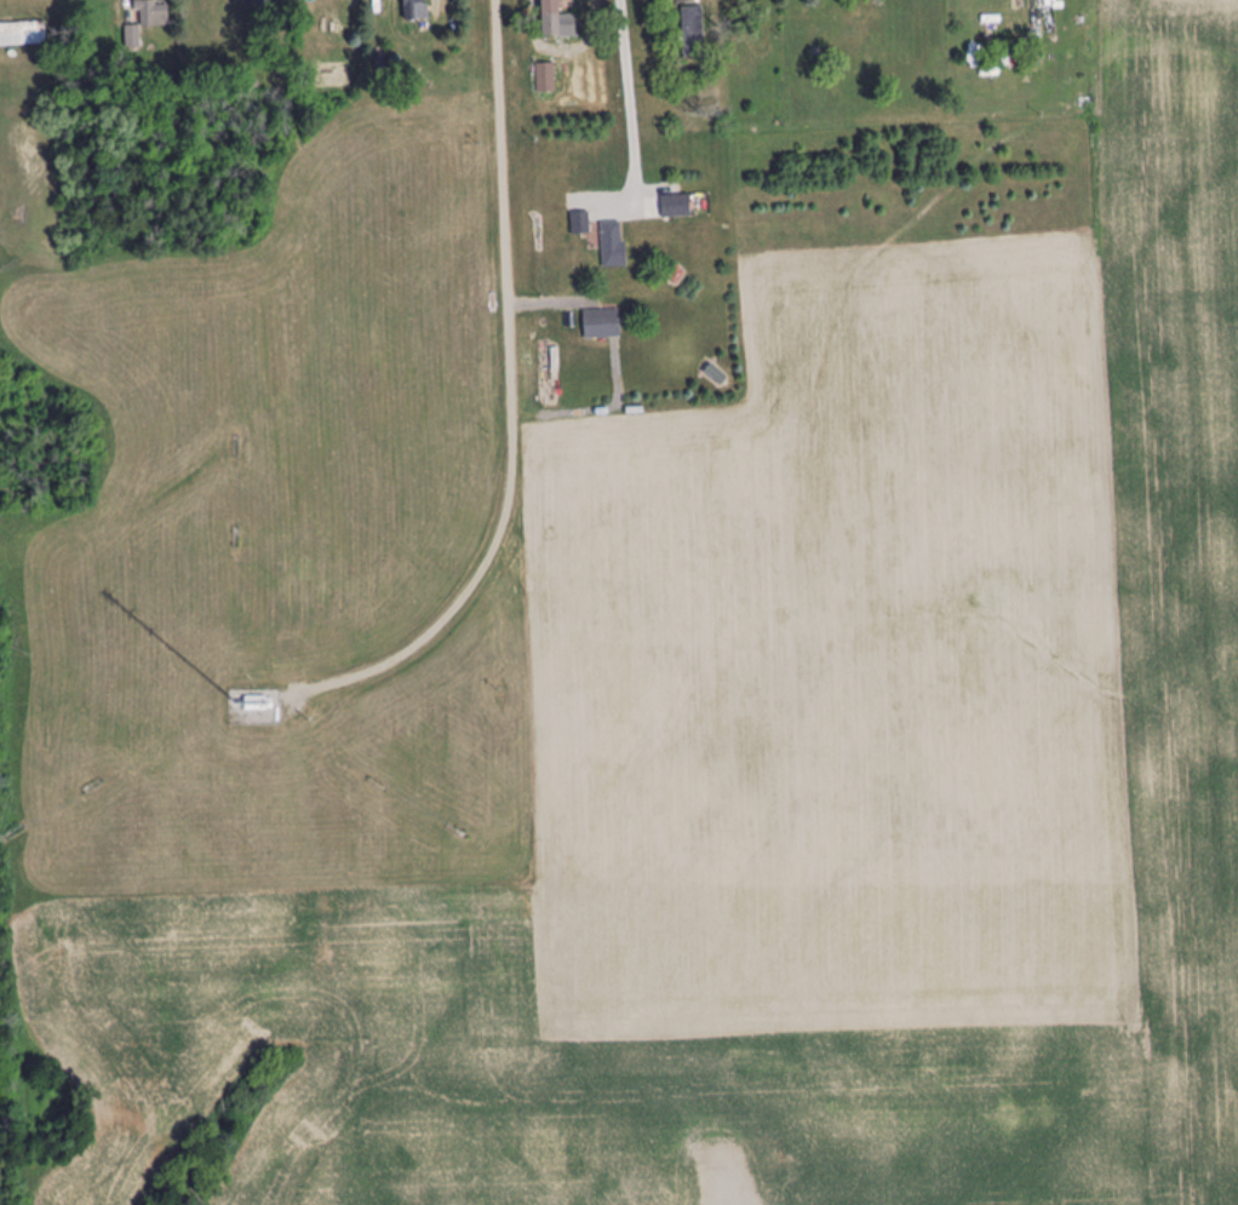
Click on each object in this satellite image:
building: (1050, 1)
building: (265, 6)
building: (415, 10)
building: (148, 21)
building: (557, 21)
building: (693, 33)
building: (22, 35)
building: (680, 206)
building: (613, 245)
building: (602, 325)

